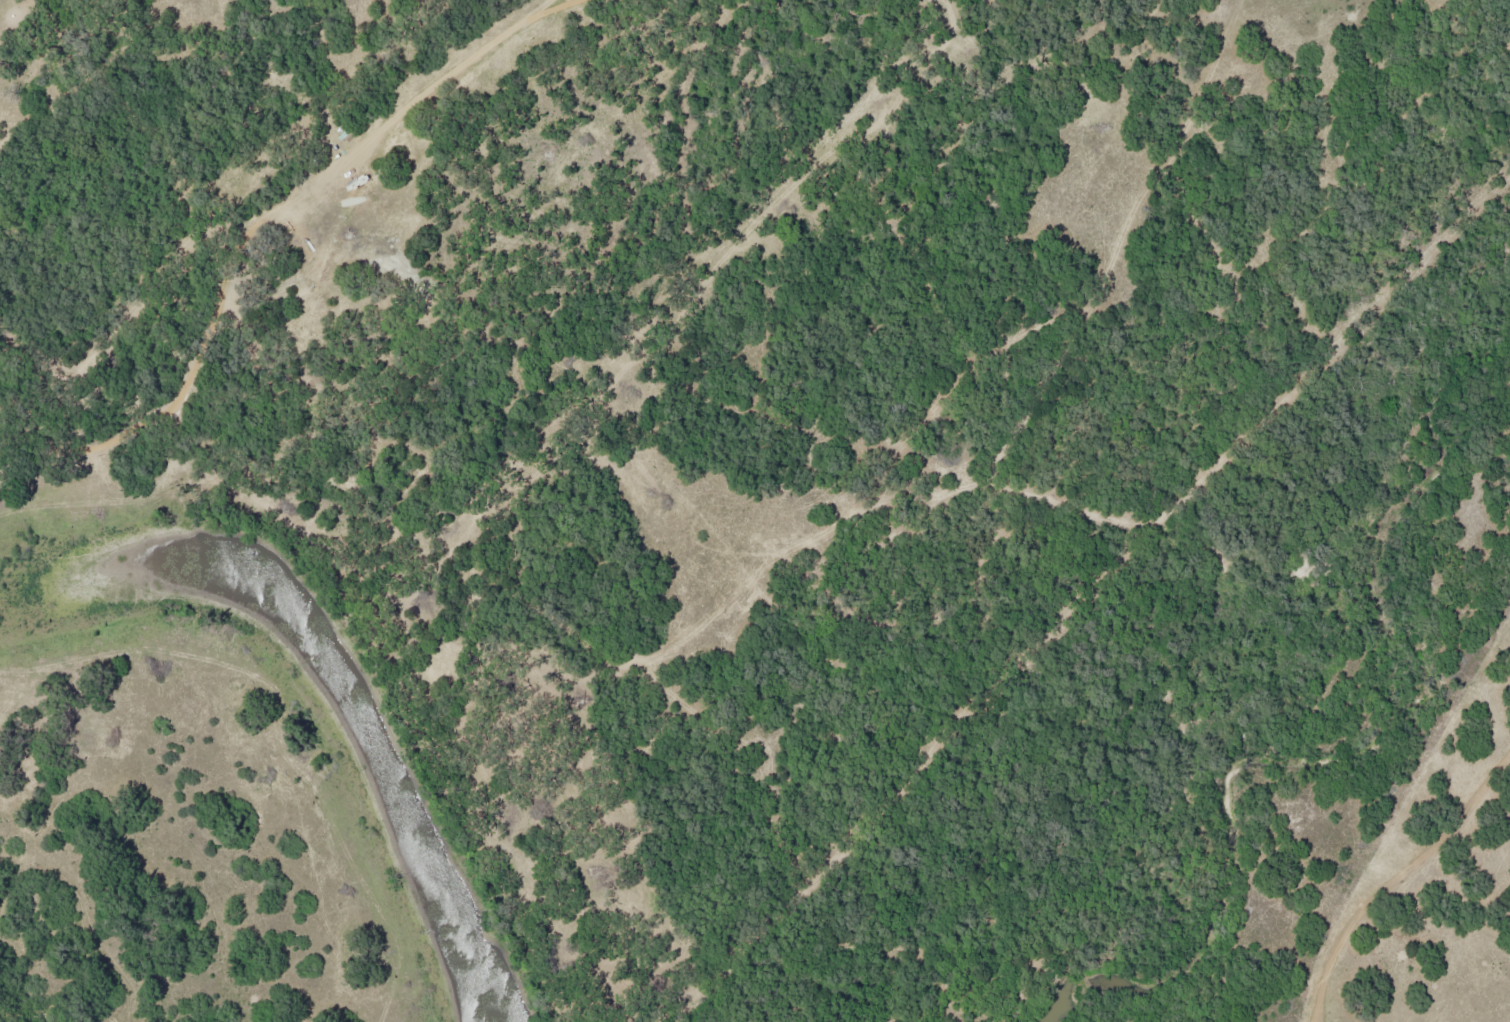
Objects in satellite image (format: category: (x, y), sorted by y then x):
road: (376, 141)
road: (1166, 155)
road: (1392, 879)

